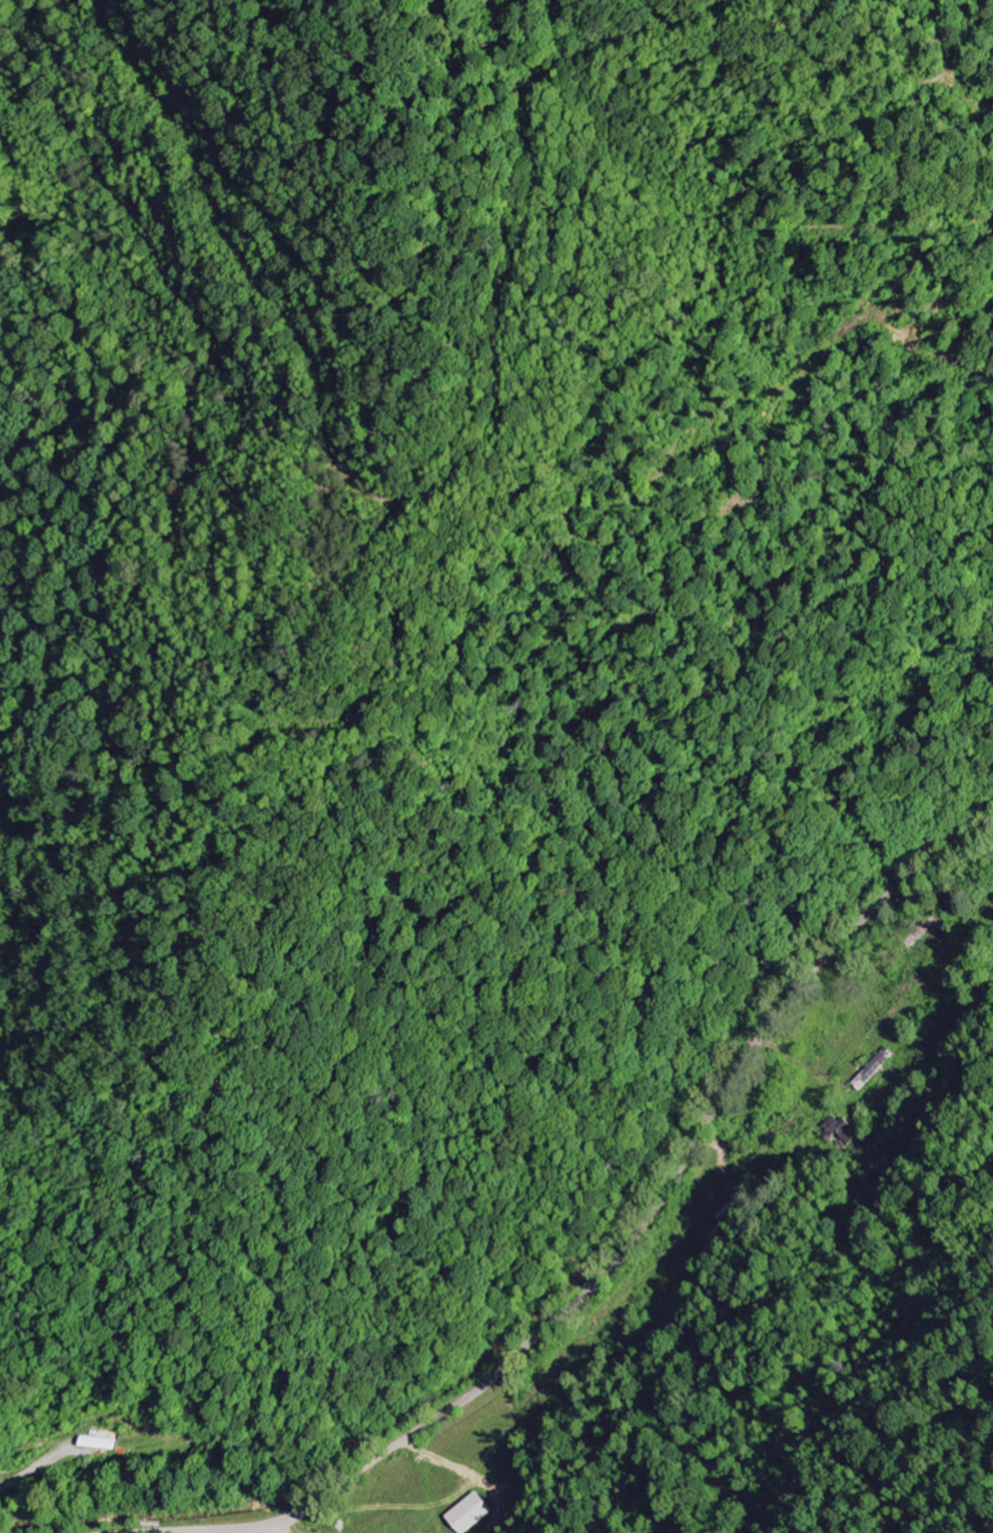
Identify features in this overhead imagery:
road: (915, 1100)
road: (624, 1248)
building: (97, 1443)
building: (468, 1513)
road: (261, 1529)

